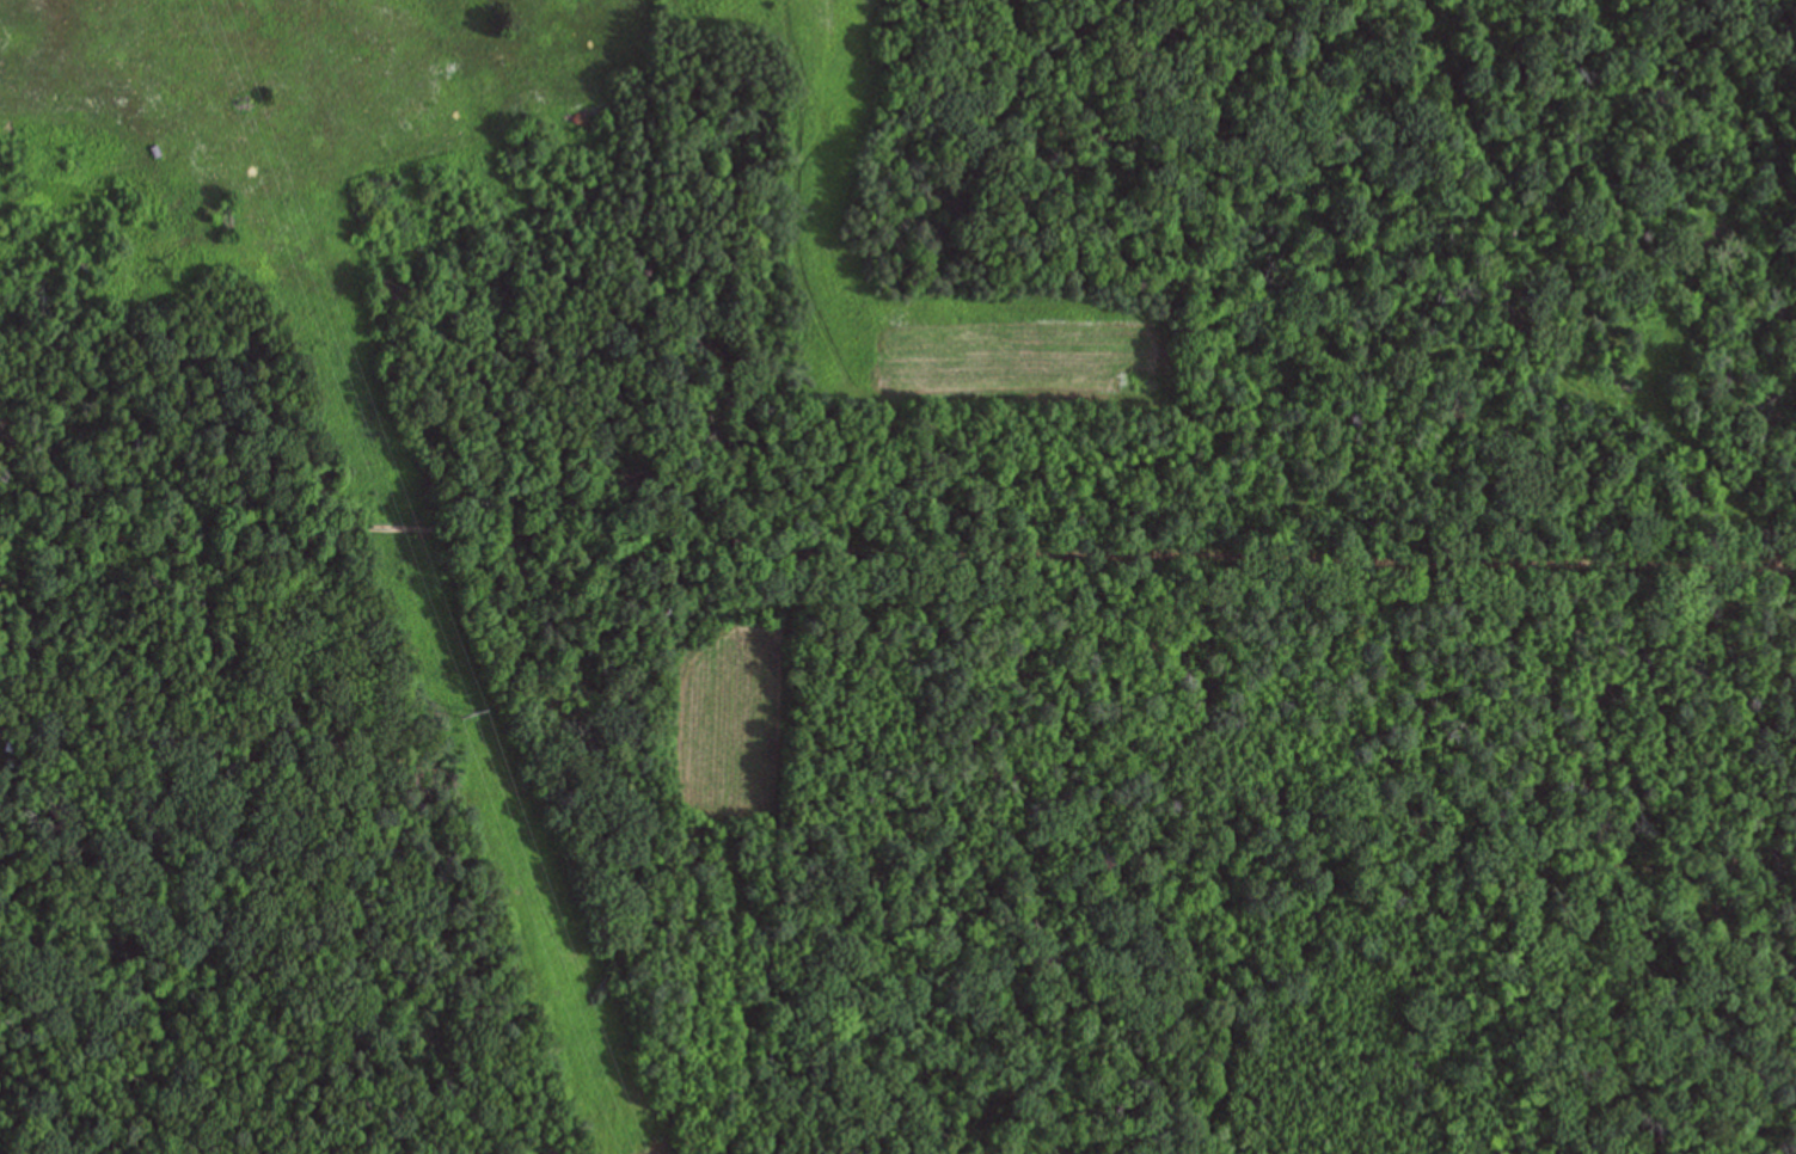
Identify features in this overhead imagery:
road: (1790, 579)
power tower: (466, 712)

